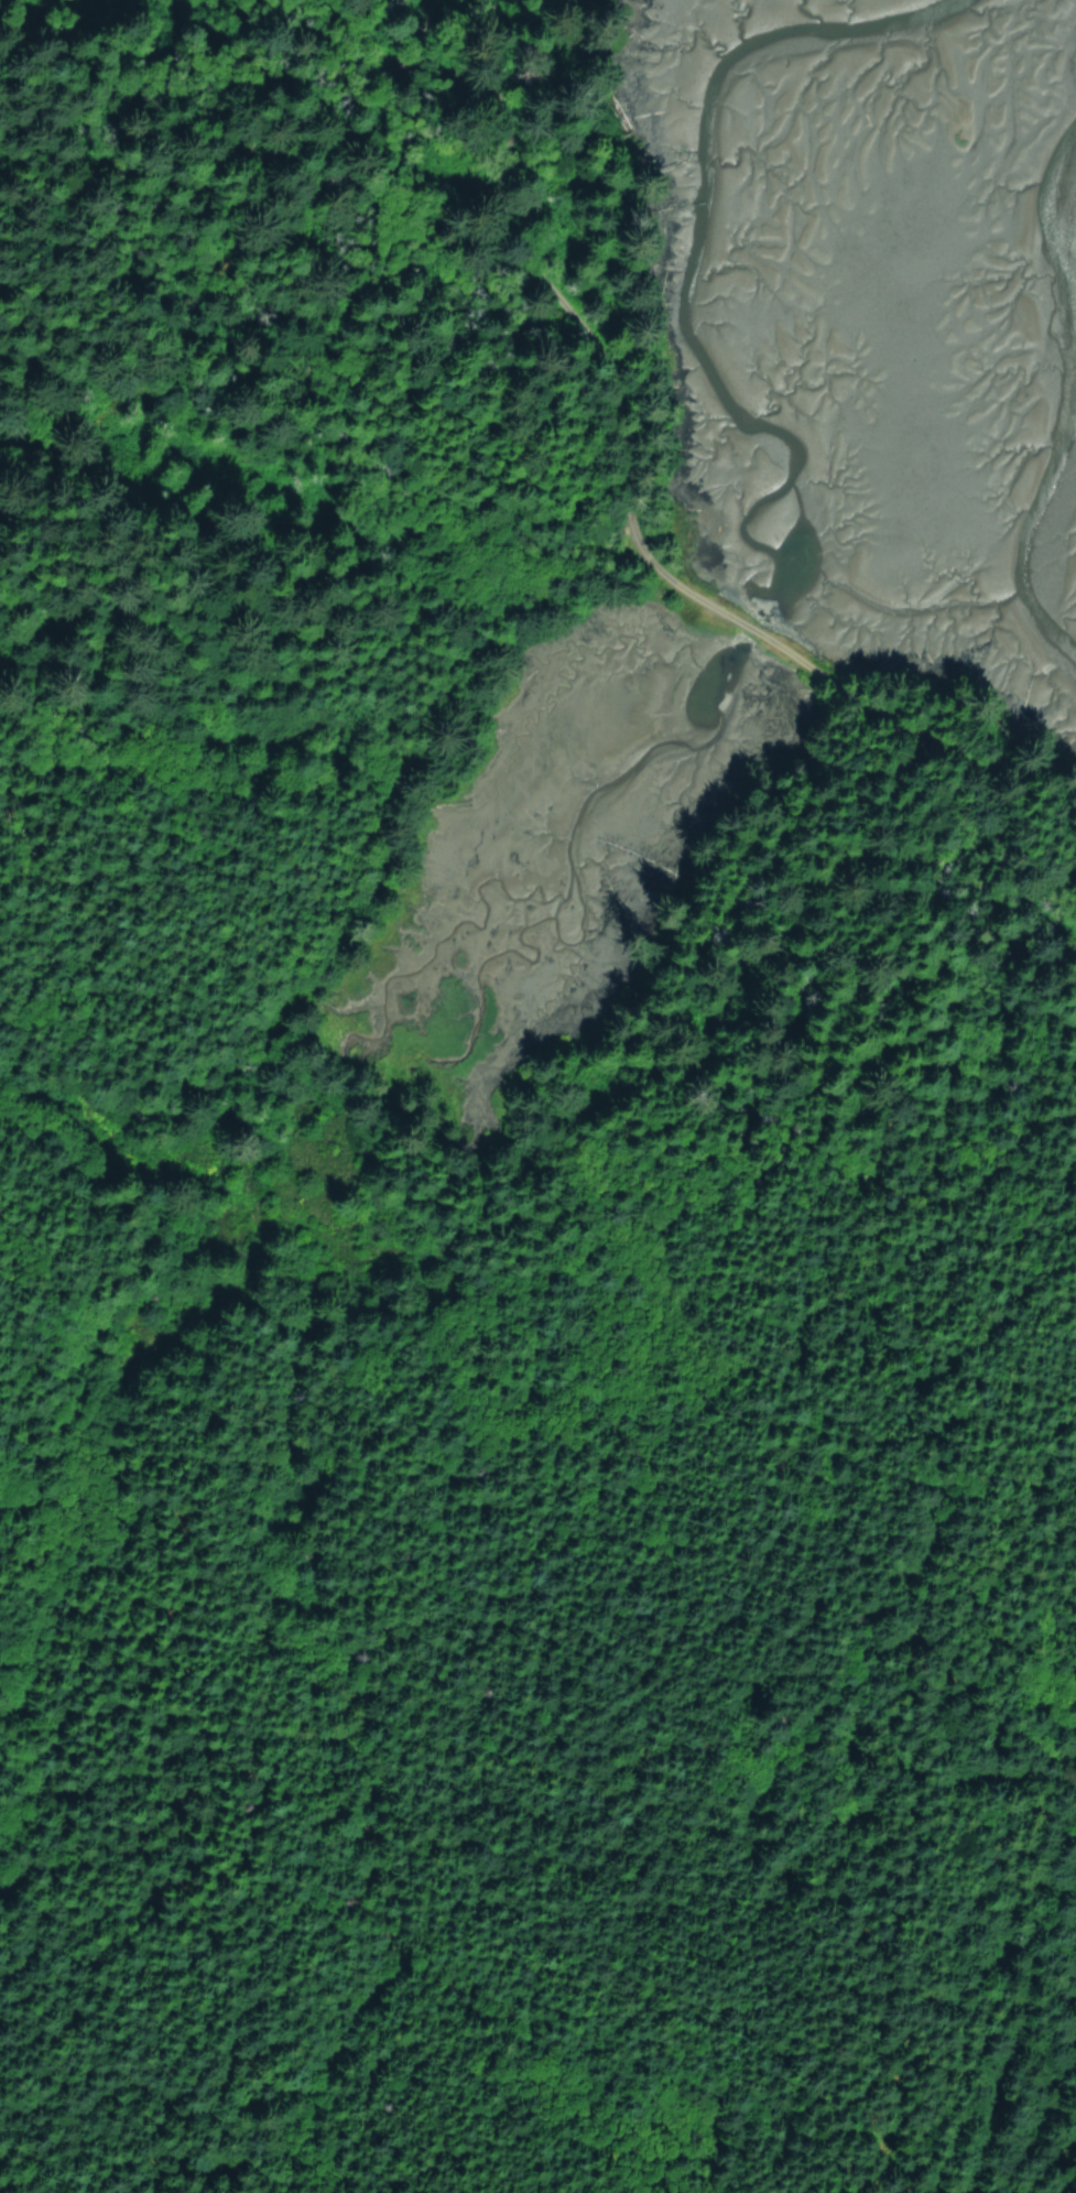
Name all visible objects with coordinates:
park: (120, 208)
road: (235, 304)
road: (627, 510)
road: (956, 1411)
road: (1019, 2007)

